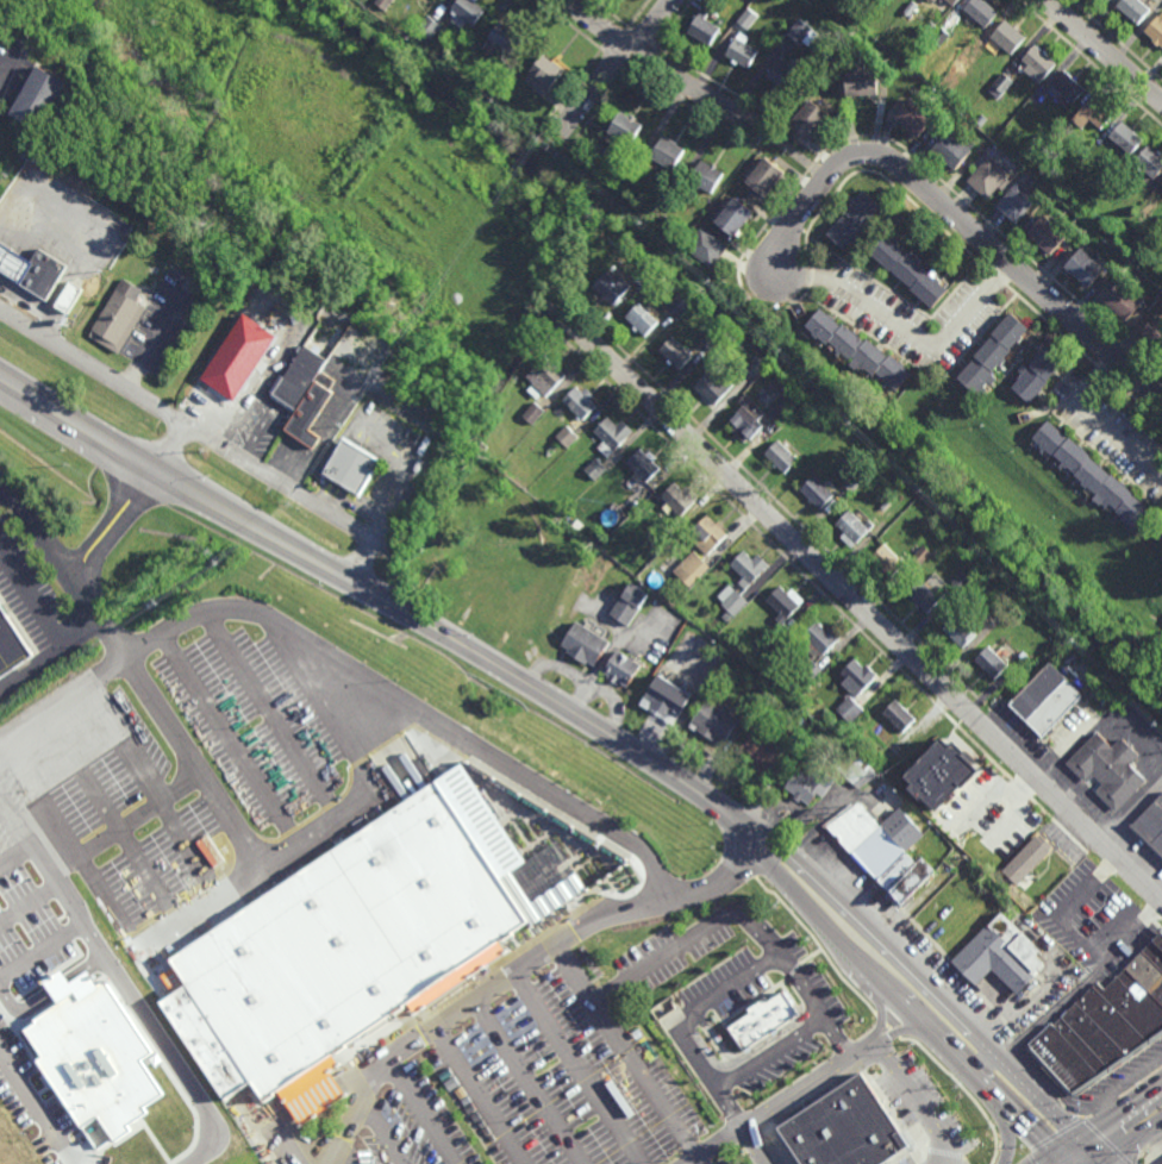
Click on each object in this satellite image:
building: (933, 0)
building: (1106, 0)
building: (930, 1)
building: (950, 1)
building: (383, 4)
building: (1157, 5)
building: (908, 8)
building: (1130, 10)
building: (979, 12)
building: (467, 13)
road: (608, 13)
road: (637, 13)
building: (748, 18)
road: (670, 23)
road: (570, 25)
building: (427, 26)
building: (929, 26)
building: (701, 30)
building: (1156, 31)
building: (802, 32)
building: (938, 36)
road: (638, 37)
road: (614, 38)
building: (1006, 38)
building: (502, 39)
road: (1117, 39)
road: (1105, 50)
building: (739, 52)
road: (642, 57)
road: (613, 60)
road: (1089, 62)
building: (1035, 64)
road: (616, 68)
road: (661, 68)
road: (8, 70)
building: (783, 77)
building: (541, 79)
road: (713, 81)
building: (860, 82)
building: (1000, 85)
building: (1066, 89)
building: (38, 98)
building: (961, 99)
road: (687, 106)
building: (1014, 108)
road: (598, 109)
building: (913, 115)
building: (1092, 115)
building: (811, 118)
road: (768, 124)
building: (623, 131)
building: (1058, 133)
road: (756, 137)
building: (1124, 142)
road: (562, 143)
building: (598, 146)
road: (764, 146)
building: (952, 148)
building: (1026, 154)
road: (795, 155)
building: (666, 156)
road: (562, 162)
building: (1149, 163)
building: (632, 169)
road: (820, 170)
building: (766, 176)
road: (882, 177)
building: (988, 177)
road: (554, 179)
building: (705, 179)
road: (833, 180)
building: (674, 193)
building: (1016, 202)
road: (258, 212)
building: (735, 217)
road: (800, 218)
building: (852, 220)
building: (1098, 226)
road: (994, 227)
building: (1047, 234)
building: (94, 243)
building: (707, 248)
road: (999, 252)
road: (580, 256)
building: (14, 258)
gas station: (14, 258)
road: (744, 261)
road: (448, 265)
building: (1085, 268)
building: (907, 271)
building: (48, 276)
building: (642, 276)
road: (812, 277)
road: (998, 277)
building: (611, 288)
road: (900, 298)
building: (68, 299)
building: (1123, 301)
road: (37, 305)
road: (551, 306)
building: (679, 306)
road: (557, 309)
road: (562, 315)
building: (121, 319)
building: (639, 320)
road: (1050, 325)
road: (907, 334)
building: (1154, 334)
road: (158, 337)
building: (712, 340)
building: (360, 350)
building: (856, 350)
building: (674, 353)
building: (992, 356)
building: (752, 365)
road: (918, 365)
building: (236, 367)
road: (1101, 369)
road: (90, 370)
building: (158, 373)
building: (766, 375)
building: (1037, 375)
building: (307, 377)
building: (543, 378)
building: (713, 387)
road: (1135, 398)
building: (579, 405)
building: (783, 409)
building: (533, 413)
building: (317, 417)
road: (1093, 418)
building: (745, 420)
building: (611, 434)
road: (1079, 434)
building: (567, 437)
building: (879, 457)
building: (780, 458)
building: (642, 465)
building: (595, 470)
building: (360, 471)
building: (1092, 478)
road: (277, 486)
building: (851, 486)
building: (816, 493)
road: (1, 494)
building: (676, 500)
building: (862, 500)
road: (358, 508)
building: (891, 514)
road: (115, 521)
building: (852, 530)
building: (669, 533)
building: (706, 536)
building: (1161, 537)
building: (1161, 540)
building: (922, 556)
building: (885, 562)
building: (688, 569)
building: (748, 569)
road: (65, 570)
building: (963, 578)
road: (820, 588)
road: (869, 593)
building: (926, 597)
road: (381, 599)
building: (731, 601)
building: (627, 606)
building: (783, 606)
road: (30, 608)
road: (863, 608)
road: (19, 626)
building: (958, 633)
building: (818, 640)
building: (769, 642)
building: (13, 645)
building: (700, 645)
building: (1010, 652)
building: (580, 653)
road: (51, 658)
building: (988, 664)
road: (351, 665)
building: (619, 668)
building: (808, 671)
building: (856, 677)
building: (664, 697)
building: (1045, 702)
building: (848, 708)
building: (897, 718)
building: (711, 724)
building: (901, 738)
road: (229, 743)
building: (760, 751)
building: (1108, 772)
building: (862, 775)
building: (941, 775)
parking lot: (164, 788)
building: (801, 788)
road: (1106, 825)
building: (1151, 825)
road: (124, 826)
building: (851, 830)
road: (1089, 840)
building: (887, 846)
road: (299, 851)
road: (14, 856)
building: (1026, 859)
road: (749, 870)
building: (895, 874)
building: (910, 882)
road: (651, 897)
road: (911, 921)
road: (1155, 922)
building: (349, 938)
road: (1083, 940)
road: (688, 941)
road: (42, 952)
building: (999, 957)
road: (523, 969)
road: (120, 981)
road: (724, 982)
road: (919, 984)
road: (470, 991)
road: (51, 993)
road: (441, 997)
road: (899, 1000)
road: (881, 1012)
building: (760, 1014)
road: (429, 1020)
road: (883, 1020)
road: (1043, 1022)
building: (1105, 1025)
road: (905, 1031)
road: (998, 1043)
road: (704, 1049)
road: (631, 1053)
building: (93, 1056)
road: (773, 1056)
road: (746, 1057)
road: (580, 1069)
road: (529, 1083)
road: (1125, 1085)
road: (1089, 1087)
road: (791, 1095)
road: (480, 1096)
road: (905, 1101)
road: (920, 1102)
road: (317, 1106)
road: (37, 1108)
road: (1073, 1108)
road: (425, 1112)
road: (1107, 1118)
building: (843, 1126)
road: (1006, 1132)
road: (383, 1135)
road: (1054, 1135)
traffic signals: (1079, 1138)
road: (1110, 1138)
road: (1154, 1140)
road: (935, 1141)
road: (1131, 1143)
road: (754, 1146)
road: (952, 1149)
road: (1011, 1151)
road: (1089, 1151)
road: (914, 1152)
traffic signals: (1055, 1153)
road: (1139, 1154)
road: (967, 1157)
road: (345, 1158)
road: (1048, 1158)
road: (1058, 1158)
road: (693, 1159)
road: (1030, 1159)
traffic signals: (1100, 1163)
building: (1161, 1163)

